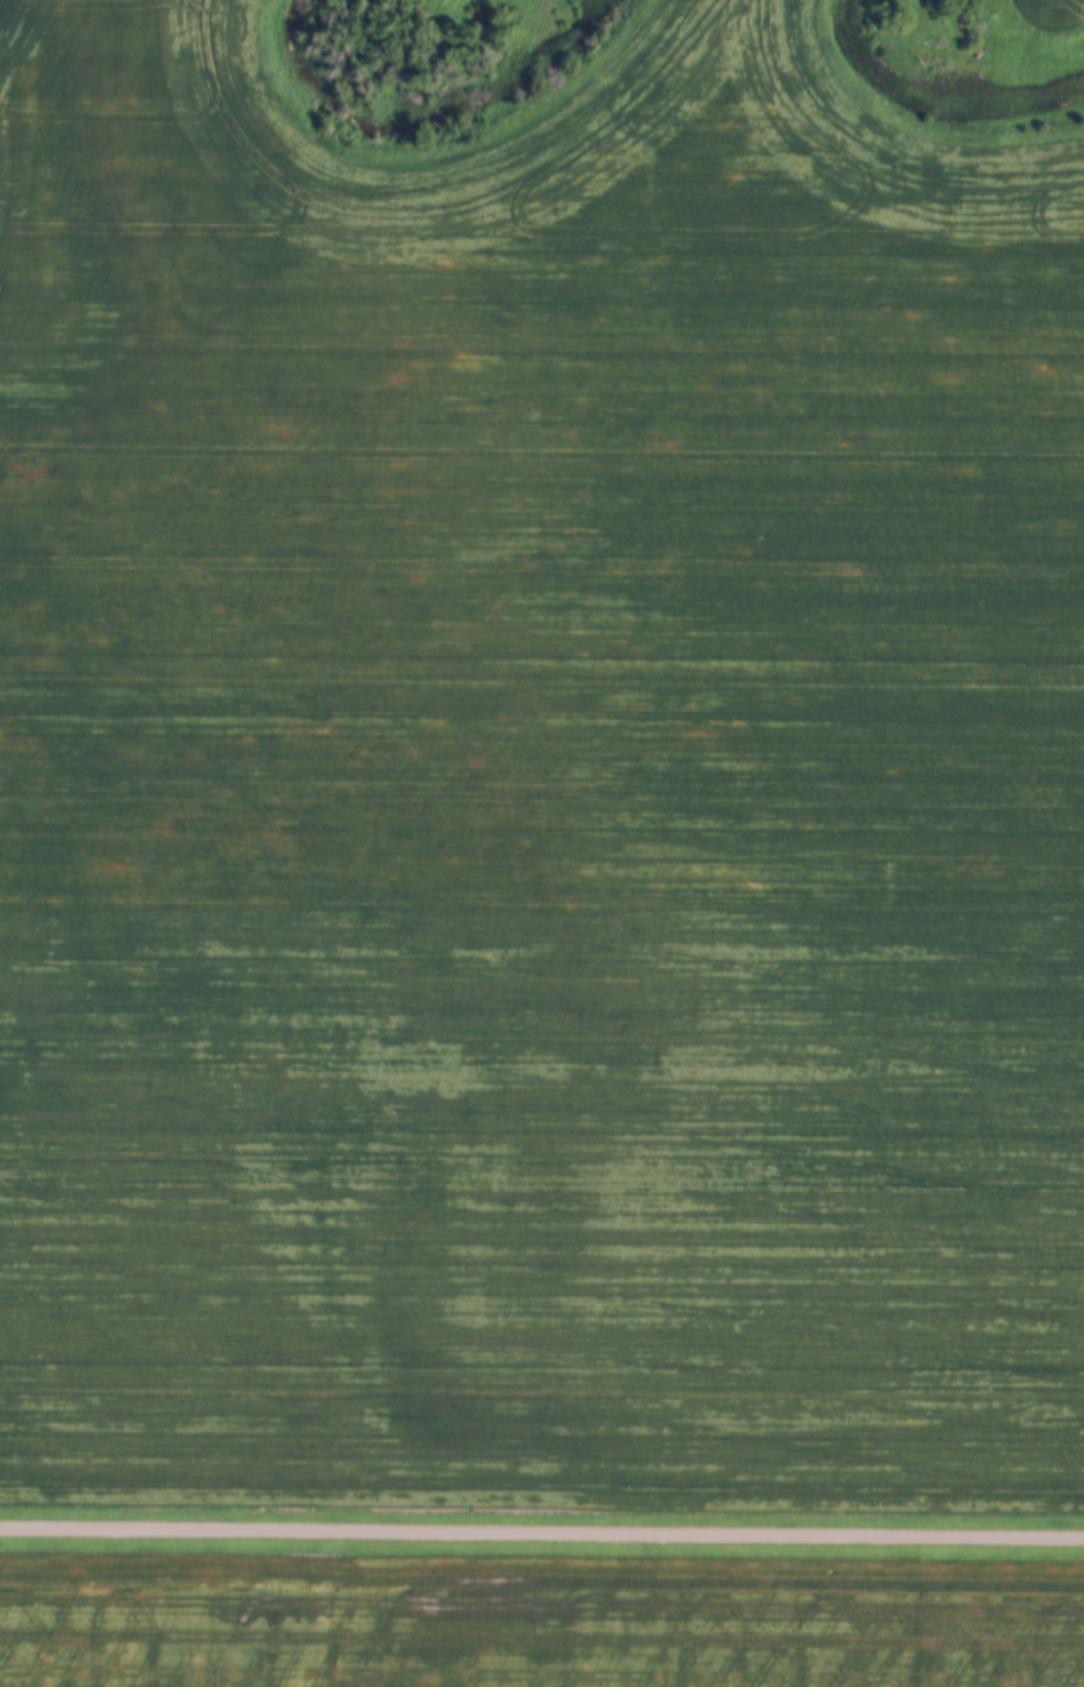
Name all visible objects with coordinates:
road: (542, 1534)

